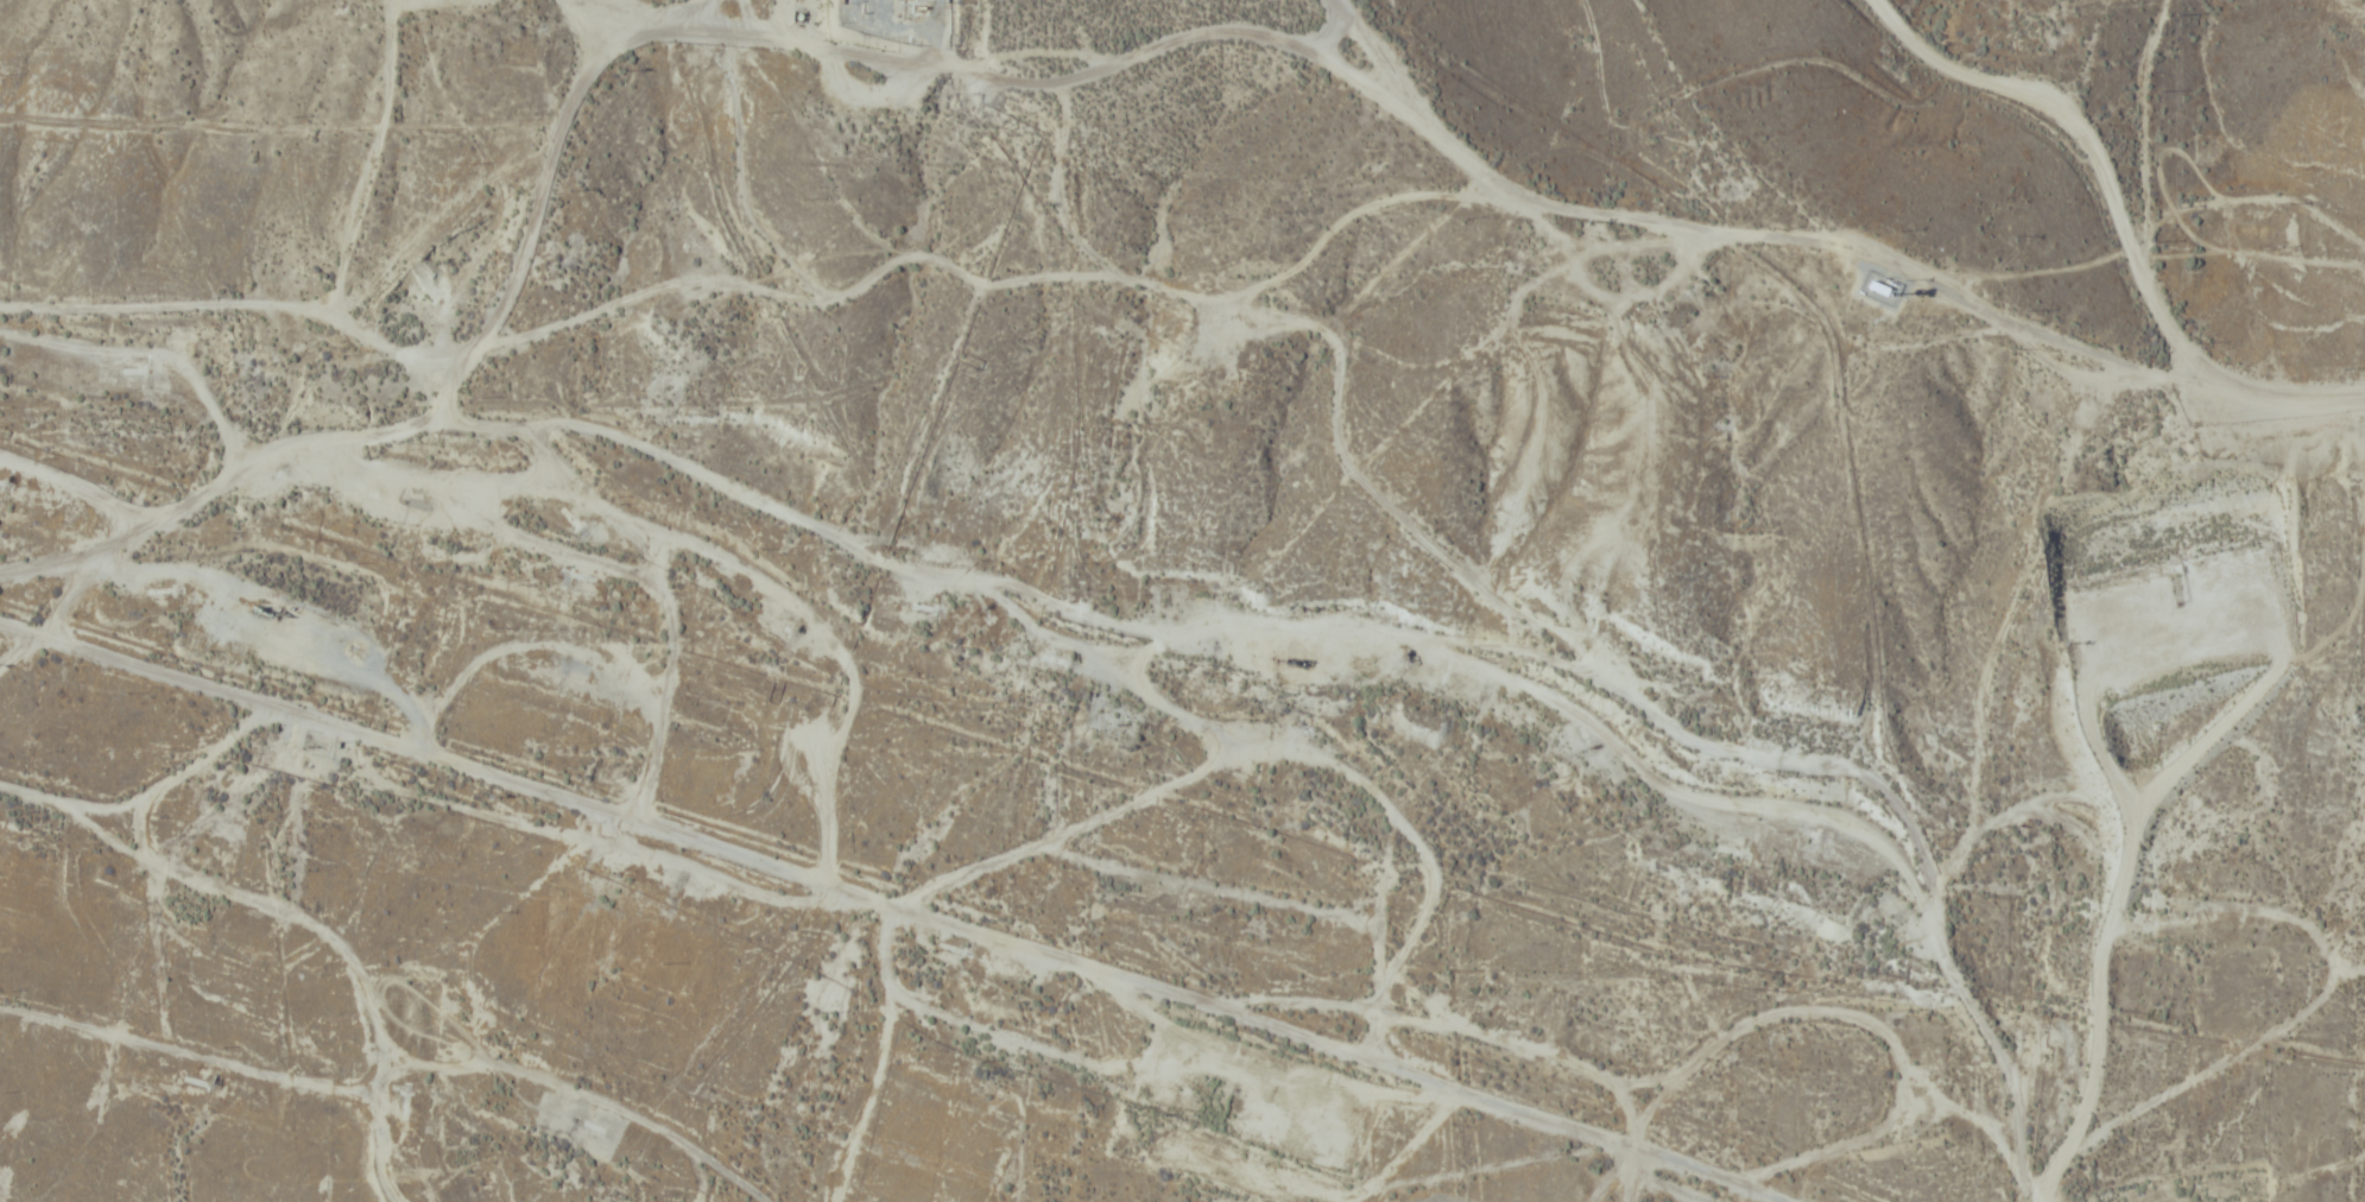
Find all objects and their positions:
building: (887, 7)
road: (574, 17)
road: (2074, 124)
road: (1753, 251)
building: (1880, 289)
road: (380, 360)
road: (1657, 1183)

